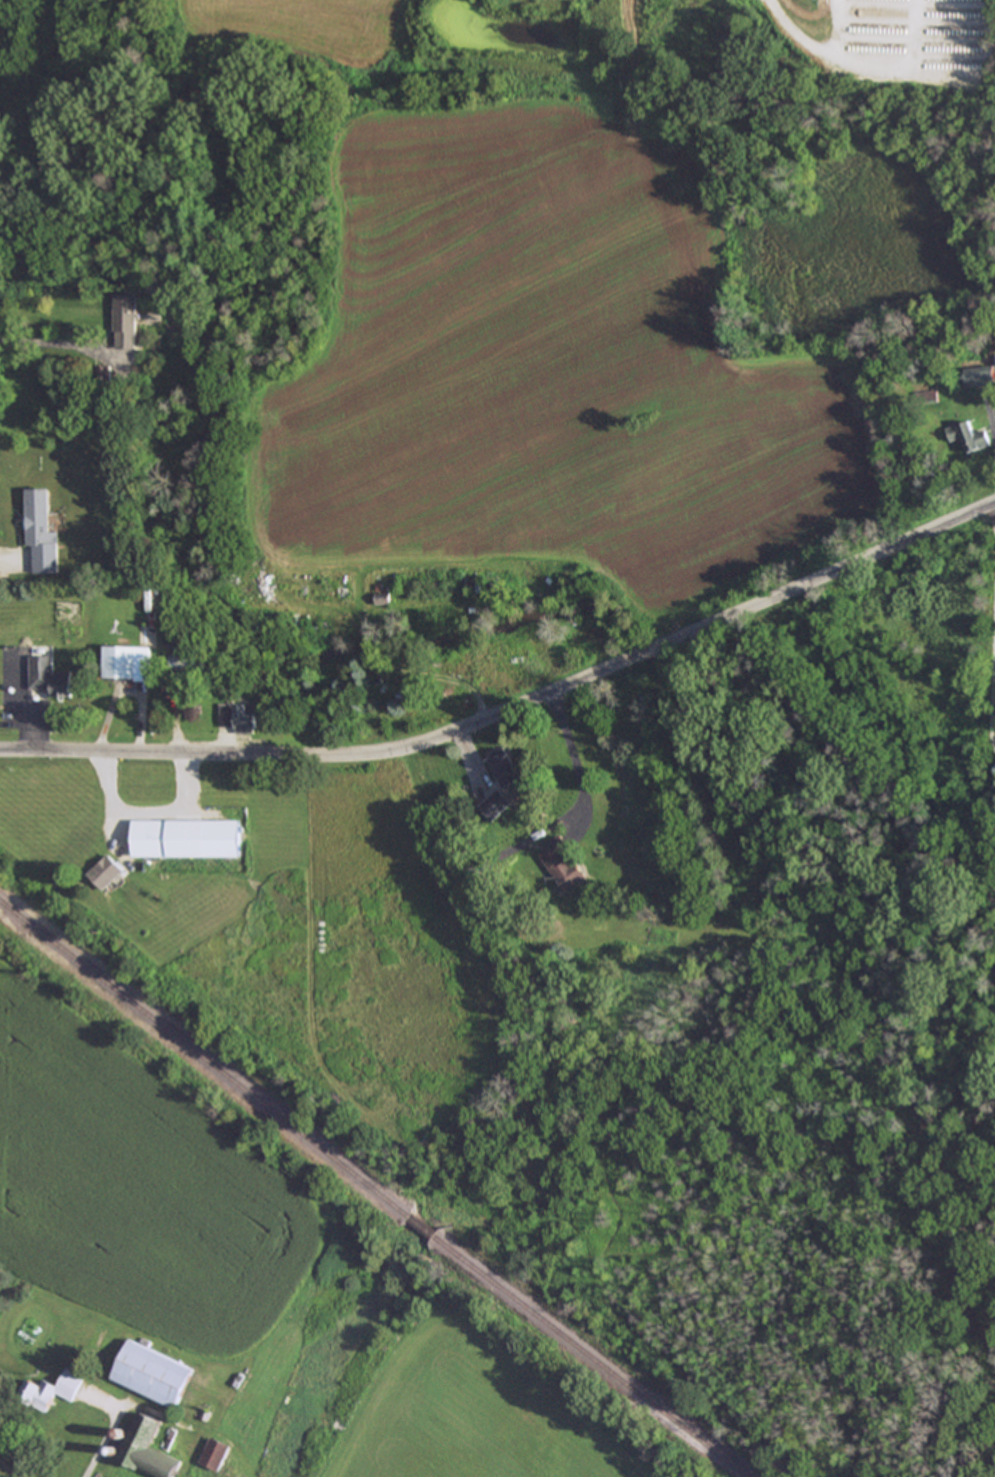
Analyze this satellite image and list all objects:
building: (125, 321)
road: (48, 341)
building: (980, 375)
building: (968, 436)
building: (470, 585)
building: (382, 597)
building: (185, 655)
building: (119, 657)
building: (49, 676)
building: (240, 717)
road: (515, 720)
road: (569, 748)
building: (505, 767)
building: (494, 805)
road: (146, 811)
building: (187, 838)
building: (563, 863)
building: (106, 872)
railway: (204, 1060)
railway: (423, 1228)
railway: (592, 1358)
building: (153, 1374)
building: (54, 1389)
road: (100, 1442)
building: (148, 1449)
building: (214, 1453)

